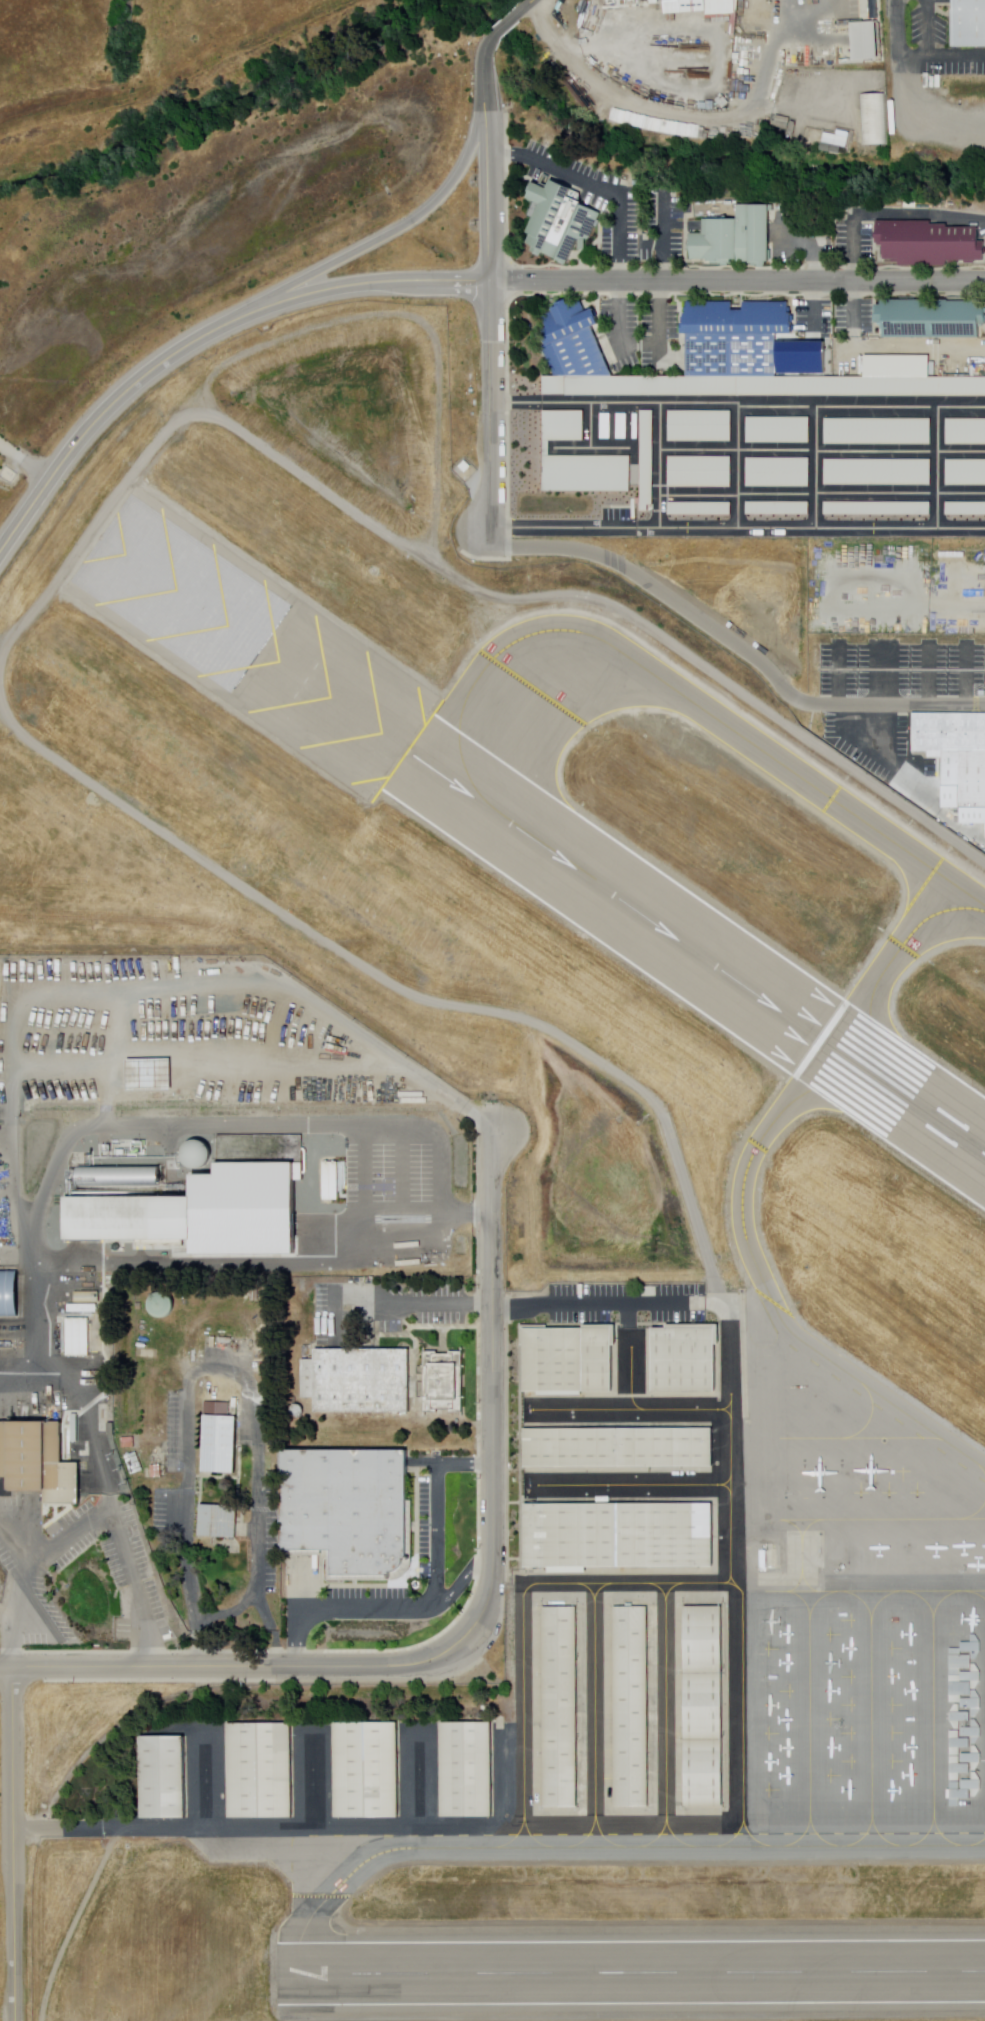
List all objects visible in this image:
road: (526, 1)
road: (499, 24)
building: (967, 24)
road: (899, 28)
building: (862, 44)
building: (874, 120)
building: (785, 124)
building: (827, 140)
road: (594, 183)
road: (886, 213)
building: (562, 215)
road: (661, 235)
building: (737, 235)
building: (930, 239)
road: (374, 241)
road: (738, 282)
road: (491, 298)
building: (929, 319)
building: (732, 337)
road: (202, 338)
building: (570, 340)
building: (757, 387)
building: (561, 426)
building: (602, 426)
building: (618, 426)
building: (700, 427)
building: (777, 430)
building: (878, 432)
building: (965, 432)
building: (646, 458)
building: (699, 472)
building: (877, 472)
building: (777, 473)
building: (966, 473)
building: (586, 474)
building: (697, 509)
building: (777, 509)
building: (877, 509)
building: (965, 509)
road: (453, 576)
road: (734, 644)
parking lot: (902, 664)
airport taxiway: (664, 683)
building: (955, 751)
airport runway: (695, 951)
airport taxiway: (882, 969)
road: (401, 989)
power plant: (201, 1214)
building: (128, 1218)
airport: (544, 1237)
airport taxiway: (757, 1276)
road: (710, 1299)
road: (599, 1300)
parking lot: (614, 1302)
building: (155, 1305)
parking lot: (422, 1306)
road: (624, 1314)
airport hangar: (568, 1358)
building: (568, 1358)
airport hangar: (681, 1359)
building: (681, 1359)
airport taxiway: (627, 1378)
building: (363, 1379)
building: (448, 1381)
airport taxiway: (630, 1410)
airport taxiway: (727, 1442)
building: (224, 1443)
airport hangar: (619, 1448)
building: (619, 1448)
airport apron: (616, 1449)
building: (41, 1460)
airport taxiway: (632, 1486)
building: (354, 1511)
building: (221, 1521)
parking lot: (427, 1527)
airport hangar: (619, 1536)
building: (619, 1536)
gas station: (765, 1557)
road: (468, 1571)
airport taxiway: (628, 1584)
airport taxiway: (595, 1590)
airport taxiway: (665, 1592)
road: (438, 1600)
airport apron: (843, 1603)
road: (482, 1620)
airport apron: (621, 1704)
airport hangar: (698, 1706)
building: (698, 1706)
airport hangar: (560, 1707)
building: (560, 1707)
airport hangar: (631, 1707)
building: (631, 1707)
airport taxiway: (662, 1718)
airport taxiway: (592, 1719)
airport hangar: (960, 1721)
building: (960, 1721)
airport hangar: (464, 1769)
building: (464, 1769)
airport hangar: (260, 1771)
building: (260, 1771)
airport hangar: (363, 1772)
building: (363, 1772)
airport hangar: (164, 1777)
building: (164, 1777)
airport apron: (328, 1778)
road: (212, 1826)
airport taxiway: (670, 1836)
airport taxiway: (749, 1837)
airport taxiway: (602, 1839)
airport taxiway: (529, 1840)
road: (13, 1843)
airport taxiway: (605, 1848)
road: (69, 1921)
airport runway: (627, 1969)

